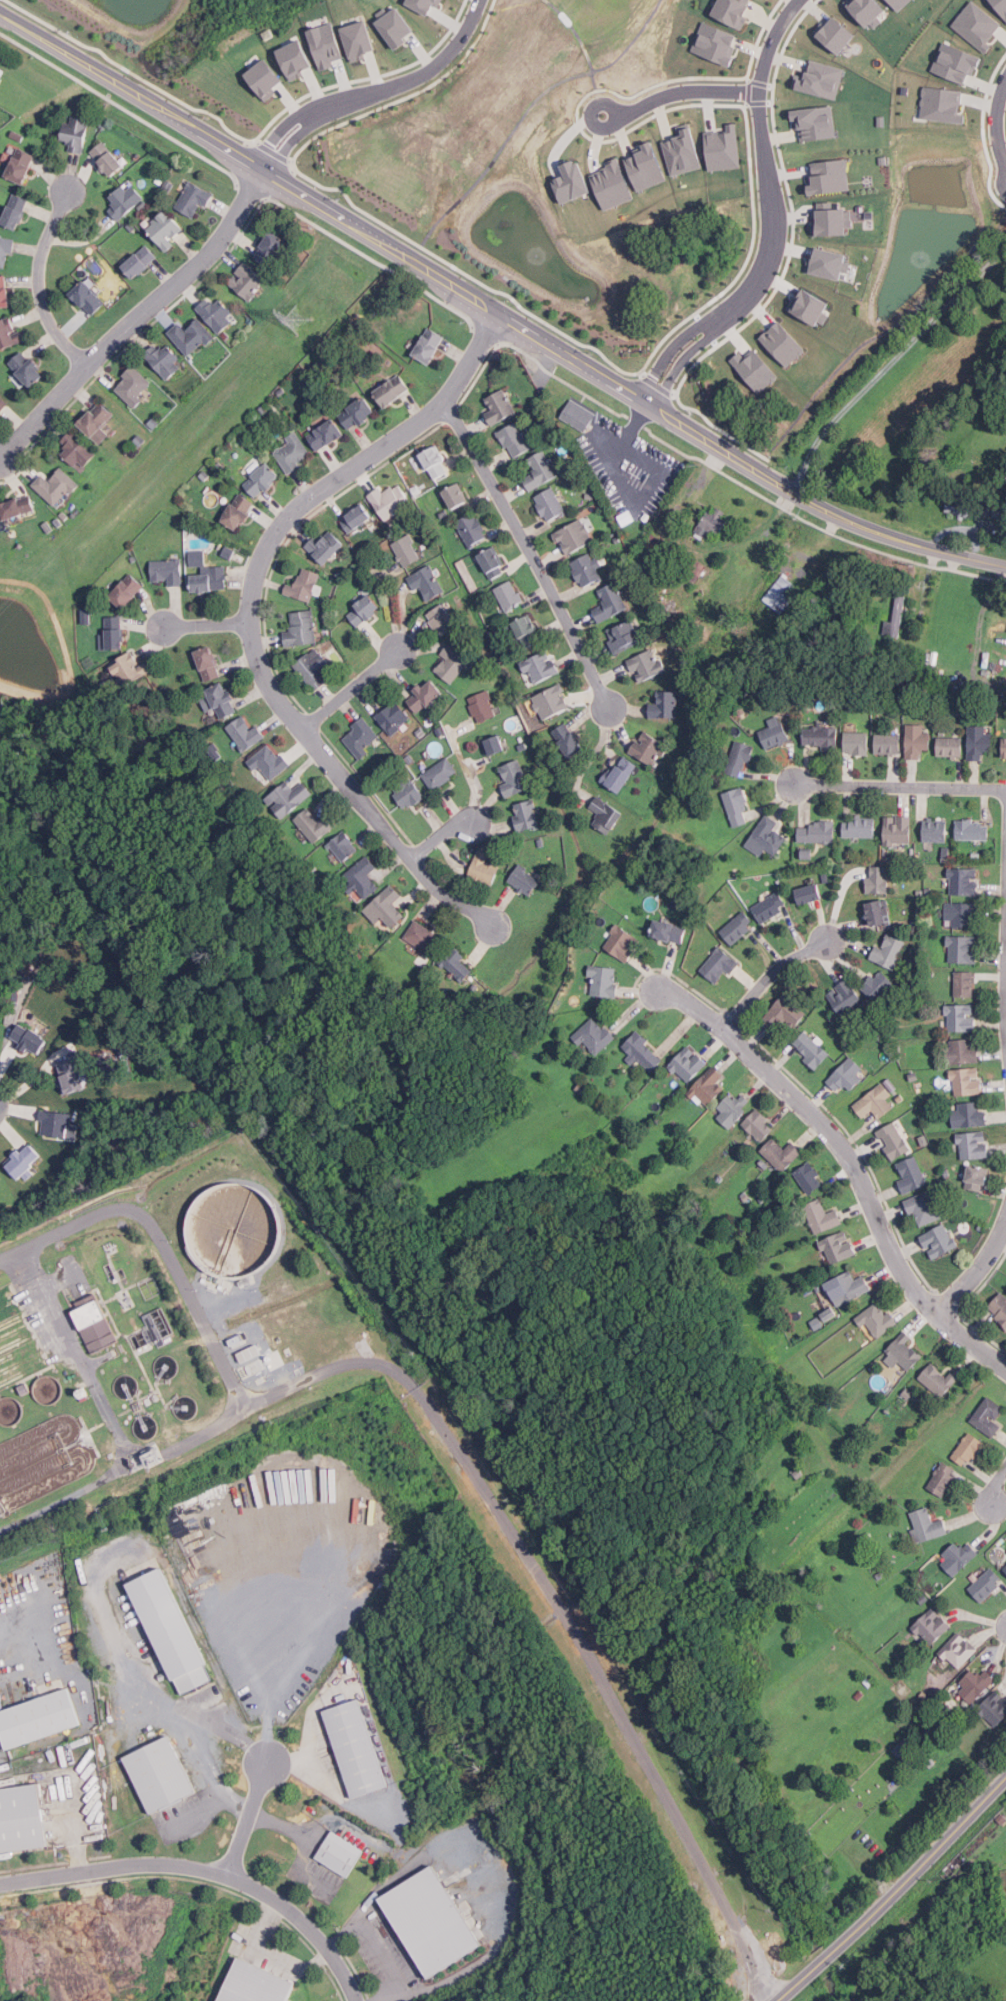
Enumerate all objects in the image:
building: (892, 4)
building: (902, 4)
building: (426, 5)
building: (1001, 6)
building: (735, 11)
building: (869, 11)
building: (979, 25)
building: (396, 27)
road: (28, 33)
building: (268, 34)
building: (838, 35)
building: (360, 41)
building: (717, 44)
building: (327, 45)
building: (297, 60)
building: (958, 63)
building: (266, 79)
building: (822, 80)
road: (376, 90)
building: (906, 91)
road: (679, 92)
building: (944, 105)
road: (996, 120)
building: (883, 121)
building: (817, 123)
building: (76, 132)
building: (724, 149)
building: (684, 152)
building: (107, 158)
building: (884, 160)
road: (765, 164)
building: (21, 165)
building: (648, 168)
building: (831, 178)
building: (574, 183)
building: (614, 185)
building: (193, 199)
building: (125, 200)
building: (15, 210)
building: (832, 224)
building: (164, 230)
building: (271, 249)
building: (5, 251)
building: (140, 261)
building: (830, 265)
road: (425, 268)
building: (247, 281)
road: (40, 284)
building: (4, 291)
building: (88, 297)
building: (813, 309)
building: (216, 313)
power tower: (300, 316)
road: (140, 323)
building: (9, 335)
building: (192, 336)
building: (784, 344)
building: (429, 345)
road: (670, 351)
building: (164, 360)
road: (683, 360)
road: (889, 363)
building: (27, 367)
building: (757, 370)
building: (133, 385)
building: (393, 390)
building: (2, 403)
building: (499, 406)
building: (357, 412)
building: (579, 415)
building: (97, 422)
road: (634, 424)
building: (326, 434)
building: (514, 440)
building: (76, 449)
building: (293, 453)
building: (435, 462)
building: (540, 470)
building: (262, 479)
building: (55, 486)
road: (644, 491)
building: (455, 495)
building: (390, 500)
building: (550, 504)
building: (960, 504)
building: (17, 506)
building: (237, 513)
building: (997, 513)
building: (356, 518)
building: (712, 522)
building: (472, 528)
building: (573, 536)
road: (895, 538)
building: (325, 546)
building: (407, 550)
building: (229, 551)
road: (531, 552)
building: (198, 557)
building: (132, 558)
building: (492, 562)
building: (689, 569)
building: (167, 570)
building: (587, 570)
building: (210, 579)
building: (427, 582)
building: (303, 585)
building: (127, 590)
building: (782, 593)
building: (509, 595)
building: (610, 602)
building: (365, 611)
building: (87, 613)
road: (250, 617)
building: (896, 618)
building: (442, 619)
road: (208, 625)
building: (301, 629)
building: (526, 630)
building: (114, 632)
building: (623, 636)
building: (932, 657)
building: (452, 662)
building: (208, 663)
building: (646, 664)
building: (540, 666)
building: (129, 669)
building: (315, 669)
road: (354, 693)
building: (425, 696)
building: (219, 700)
building: (552, 701)
building: (664, 705)
building: (482, 707)
building: (393, 717)
building: (774, 732)
building: (247, 734)
building: (361, 737)
building: (820, 737)
building: (569, 740)
building: (917, 740)
building: (979, 742)
building: (856, 743)
building: (887, 743)
building: (496, 745)
building: (950, 747)
building: (648, 748)
building: (1005, 748)
road: (590, 752)
building: (739, 758)
building: (269, 761)
building: (621, 773)
building: (440, 774)
road: (471, 778)
building: (514, 778)
road: (900, 785)
building: (408, 793)
building: (289, 797)
building: (737, 807)
building: (605, 814)
building: (527, 815)
building: (315, 824)
building: (859, 827)
building: (972, 829)
building: (898, 830)
building: (935, 830)
building: (817, 832)
building: (766, 837)
road: (443, 840)
building: (343, 845)
building: (484, 868)
building: (362, 877)
building: (878, 879)
building: (525, 880)
building: (963, 881)
building: (810, 893)
building: (386, 907)
building: (770, 907)
building: (878, 912)
building: (962, 913)
building: (737, 927)
building: (667, 931)
building: (423, 937)
building: (622, 943)
building: (962, 949)
building: (888, 951)
building: (457, 964)
building: (719, 964)
building: (604, 981)
road: (773, 981)
building: (964, 984)
building: (877, 985)
building: (845, 998)
building: (785, 1014)
building: (962, 1018)
building: (594, 1035)
building: (29, 1038)
building: (811, 1050)
building: (643, 1052)
building: (960, 1052)
building: (688, 1064)
building: (71, 1075)
building: (846, 1076)
building: (967, 1082)
building: (708, 1086)
building: (874, 1103)
building: (733, 1109)
building: (969, 1115)
building: (54, 1124)
building: (759, 1125)
building: (894, 1141)
building: (973, 1145)
building: (781, 1154)
building: (24, 1160)
road: (851, 1163)
building: (911, 1175)
building: (808, 1178)
building: (977, 1178)
building: (0, 1179)
building: (925, 1208)
building: (822, 1216)
building: (938, 1241)
building: (838, 1247)
road: (9, 1256)
road: (976, 1276)
building: (849, 1287)
building: (999, 1308)
building: (818, 1317)
building: (878, 1319)
building: (96, 1321)
building: (152, 1326)
building: (905, 1351)
building: (243, 1353)
building: (938, 1380)
building: (988, 1416)
road: (438, 1421)
road: (115, 1425)
road: (192, 1436)
building: (969, 1450)
building: (940, 1479)
road: (996, 1487)
building: (927, 1526)
building: (958, 1557)
building: (1005, 1567)
building: (986, 1585)
building: (932, 1626)
building: (173, 1630)
building: (958, 1649)
road: (9, 1676)
building: (975, 1683)
road: (152, 1691)
road: (268, 1696)
building: (995, 1707)
building: (39, 1718)
building: (357, 1749)
road: (218, 1770)
building: (162, 1775)
building: (22, 1820)
road: (249, 1820)
road: (277, 1826)
building: (340, 1854)
road: (205, 1870)
road: (896, 1893)
building: (433, 1920)
road: (373, 1946)
road: (742, 1946)
road: (755, 1981)
building: (257, 1983)

